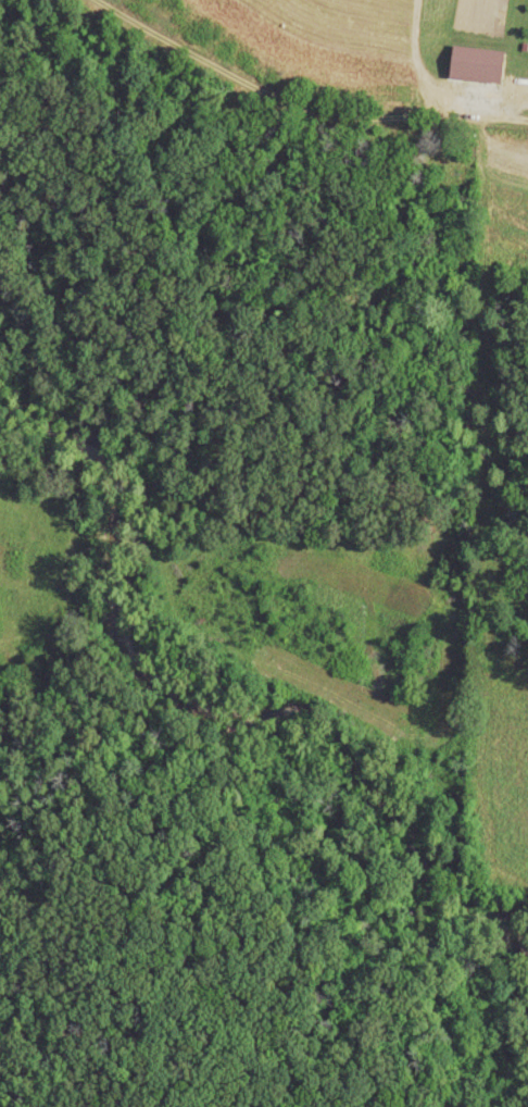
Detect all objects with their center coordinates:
road: (299, 110)

